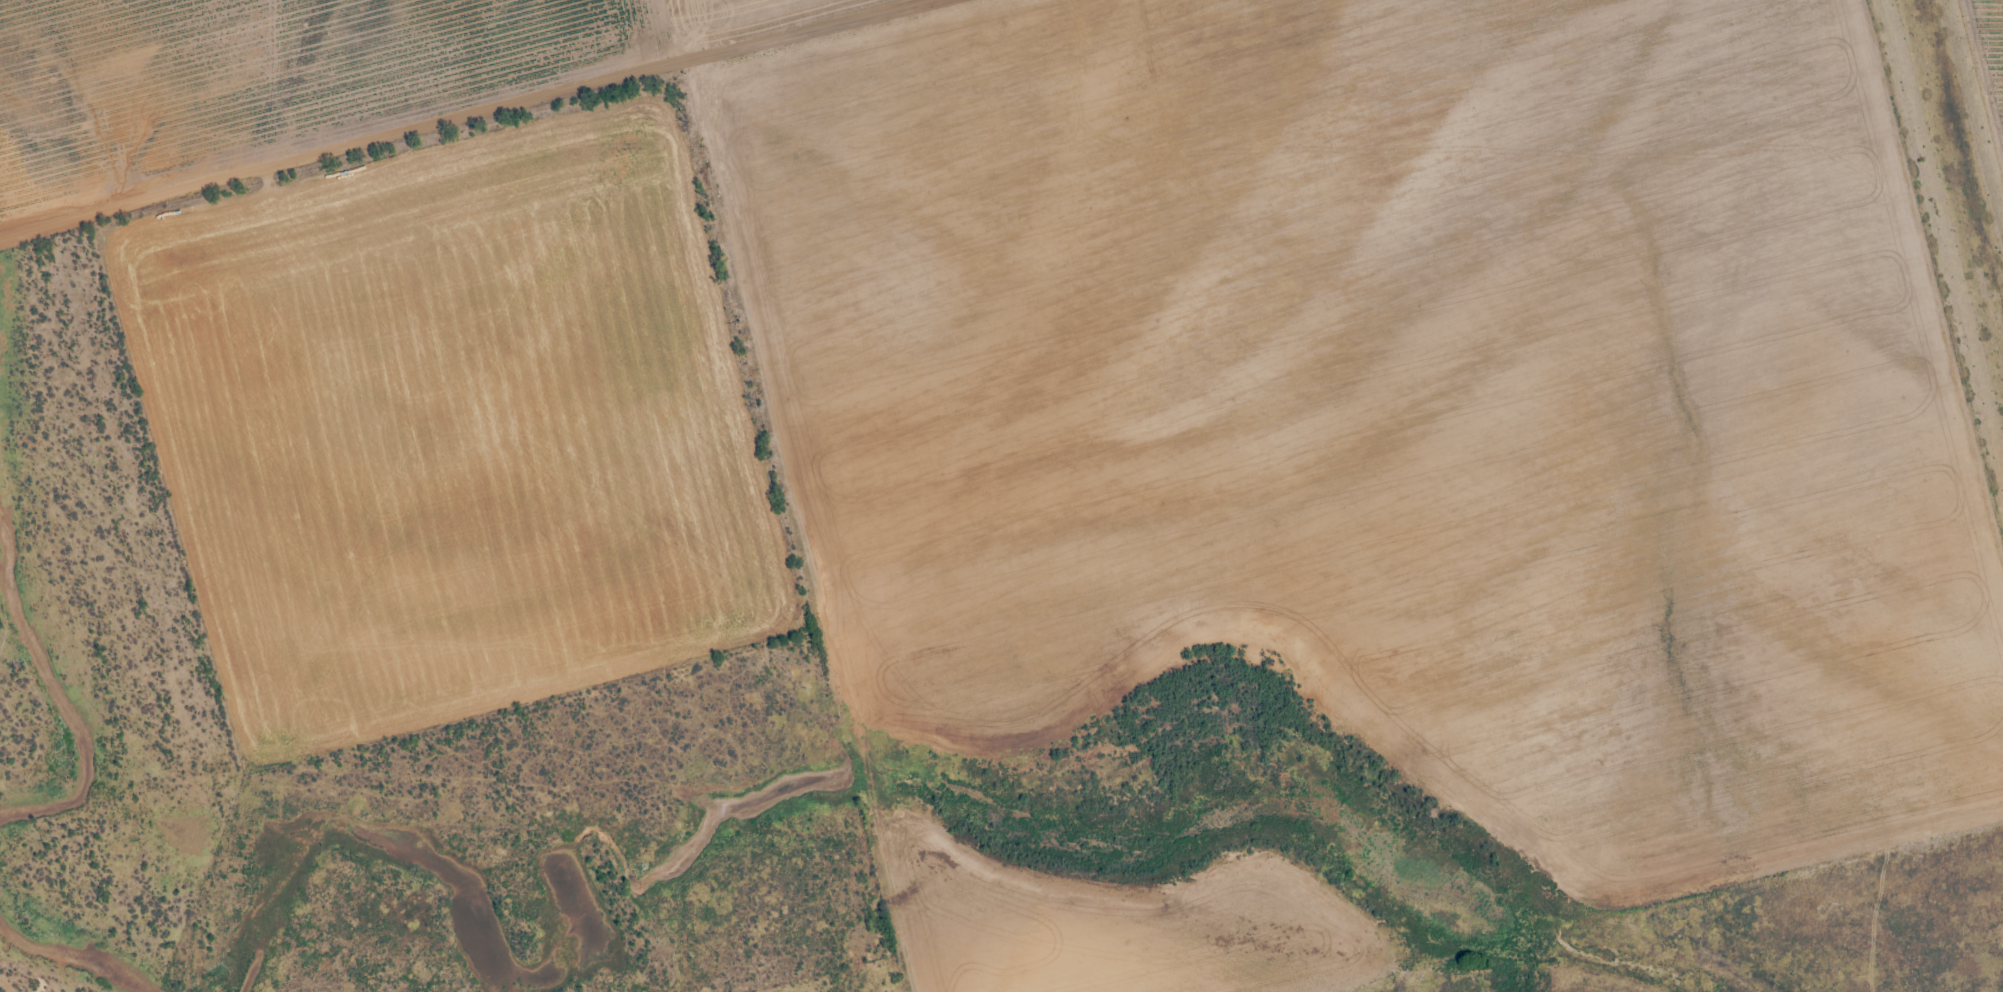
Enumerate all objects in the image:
road: (443, 110)

